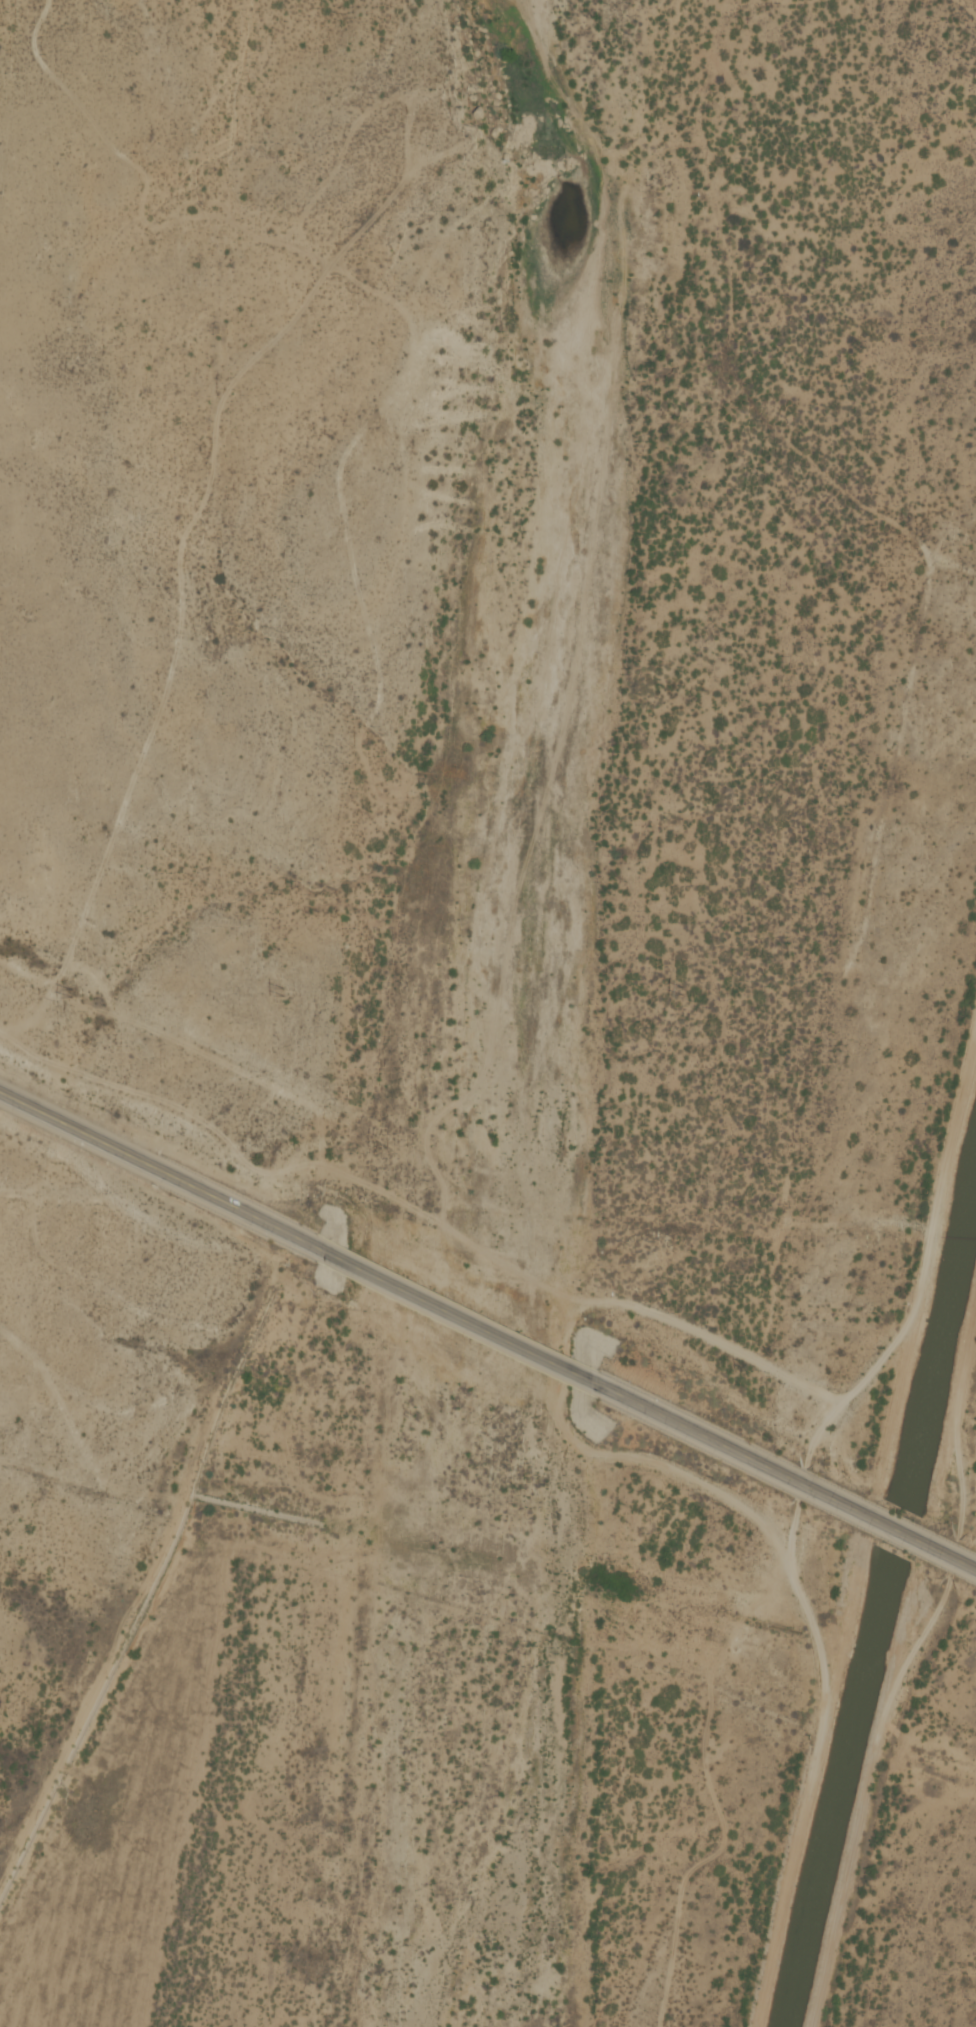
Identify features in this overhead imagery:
river: (498, 1011)
road: (160, 1171)
road: (458, 1316)
road: (732, 1449)
road: (891, 1527)
road: (944, 1553)
road: (96, 1685)
road: (6, 1871)

